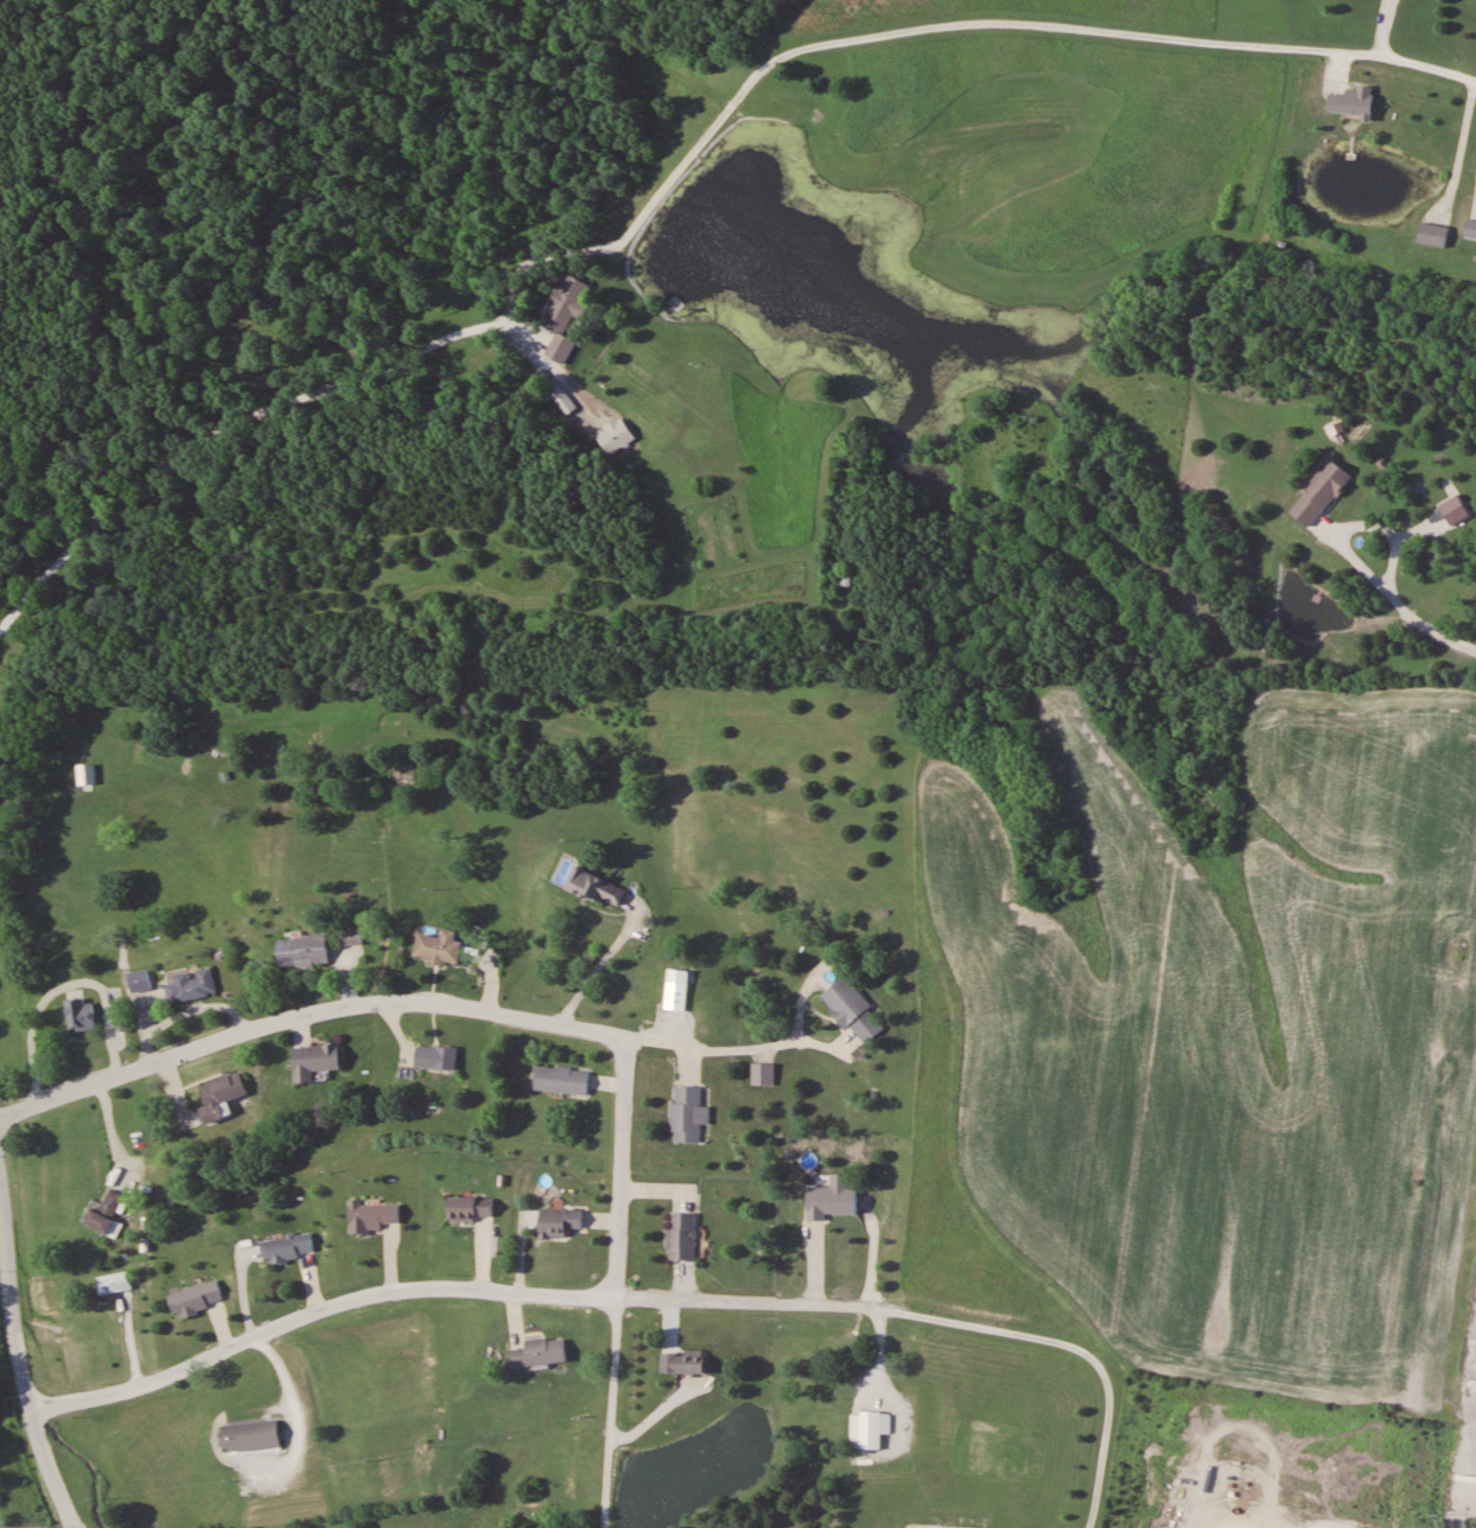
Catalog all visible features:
building: (1353, 101)
road: (680, 172)
building: (1471, 228)
building: (1434, 234)
building: (568, 300)
building: (560, 397)
building: (614, 435)
building: (1320, 493)
building: (847, 579)
road: (192, 754)
building: (596, 887)
building: (352, 936)
building: (439, 948)
building: (302, 951)
building: (139, 981)
building: (192, 986)
building: (677, 990)
building: (853, 1010)
building: (80, 1015)
road: (307, 1021)
road: (662, 1044)
building: (436, 1057)
building: (314, 1061)
building: (763, 1074)
building: (561, 1080)
building: (220, 1096)
building: (688, 1114)
road: (618, 1173)
building: (829, 1201)
building: (468, 1209)
building: (106, 1215)
building: (370, 1216)
building: (558, 1222)
building: (682, 1237)
building: (285, 1248)
building: (113, 1283)
building: (193, 1300)
road: (315, 1309)
road: (944, 1319)
building: (539, 1353)
road: (20, 1362)
building: (682, 1363)
road: (612, 1415)
building: (868, 1429)
building: (250, 1436)

